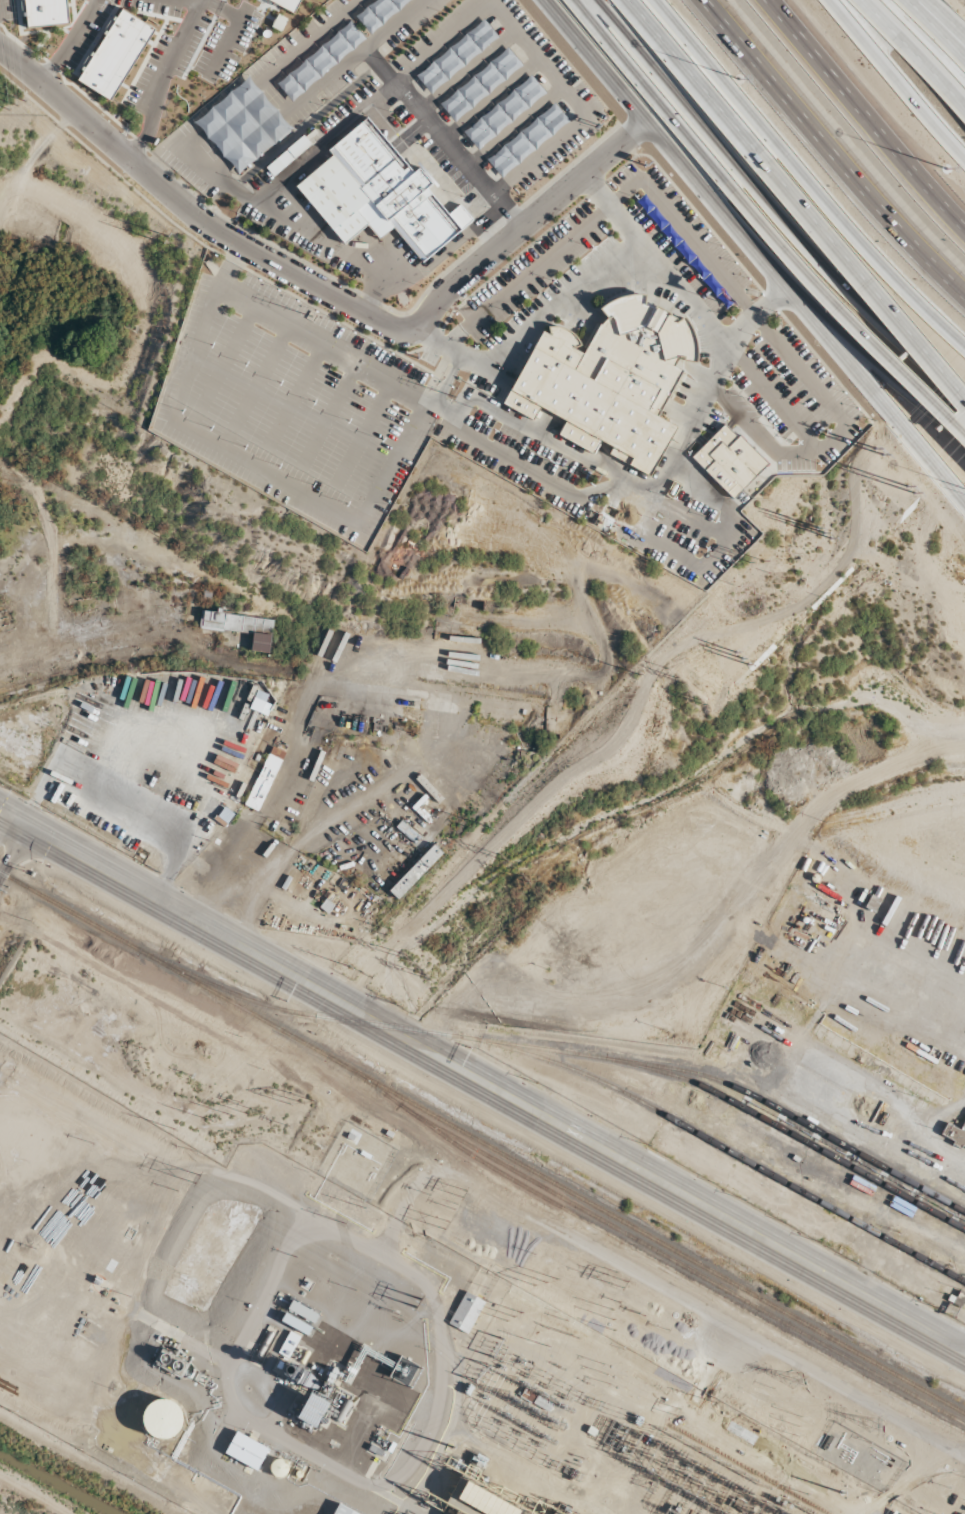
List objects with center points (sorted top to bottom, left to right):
building: (288, 4)
building: (45, 12)
building: (378, 12)
road: (940, 20)
road: (937, 28)
road: (915, 51)
building: (115, 53)
building: (320, 60)
road: (537, 61)
road: (467, 71)
road: (895, 80)
road: (646, 96)
road: (491, 101)
road: (862, 119)
road: (429, 121)
building: (242, 125)
road: (514, 127)
road: (323, 141)
road: (664, 142)
road: (833, 153)
building: (287, 155)
road: (208, 174)
road: (802, 182)
building: (378, 193)
road: (795, 203)
road: (770, 206)
road: (190, 211)
road: (523, 222)
road: (305, 230)
road: (430, 261)
road: (678, 286)
road: (848, 311)
road: (532, 323)
road: (872, 365)
building: (609, 380)
road: (875, 393)
building: (728, 460)
building: (240, 627)
building: (494, 708)
building: (490, 732)
building: (264, 778)
building: (449, 794)
traffic signals: (17, 824)
road: (8, 838)
building: (415, 871)
road: (257, 895)
railway: (571, 1053)
road: (482, 1083)
building: (954, 1134)
railway: (482, 1145)
railway: (725, 1150)
power tower: (195, 1176)
railway: (651, 1260)
railway: (684, 1268)
road: (673, 1295)
power tower: (417, 1300)
building: (302, 1311)
building: (466, 1312)
power plant: (326, 1347)
building: (312, 1410)
building: (162, 1419)
building: (246, 1450)
building: (342, 1510)

